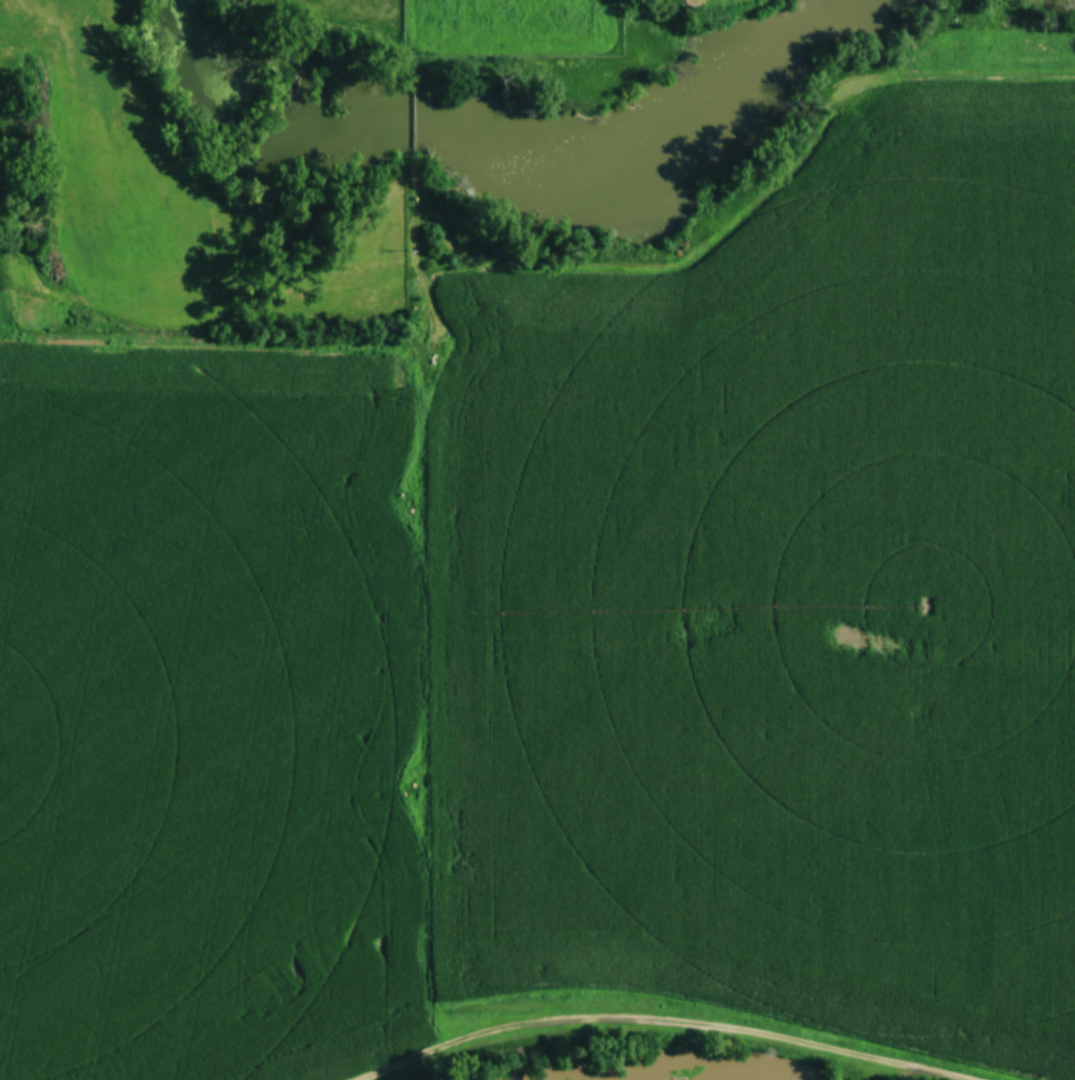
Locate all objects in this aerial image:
river: (678, 1069)

